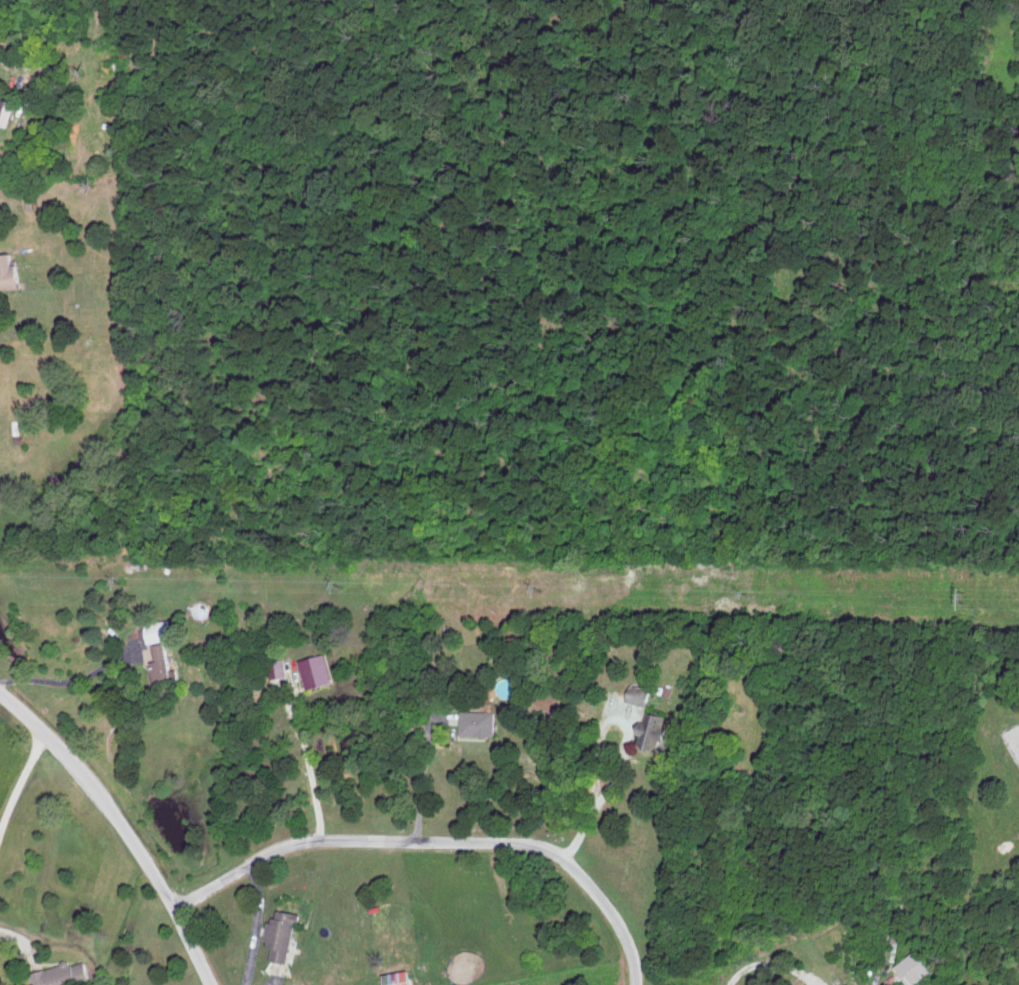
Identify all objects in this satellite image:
building: (7, 110)
building: (11, 270)
building: (161, 631)
building: (163, 662)
building: (278, 667)
building: (317, 670)
road: (75, 680)
building: (639, 694)
building: (479, 722)
building: (654, 730)
road: (631, 742)
road: (420, 768)
road: (307, 770)
road: (22, 782)
road: (123, 825)
road: (584, 831)
road: (286, 848)
road: (561, 860)
road: (259, 924)
building: (285, 934)
building: (915, 968)
building: (64, 974)
building: (399, 978)
building: (815, 984)

